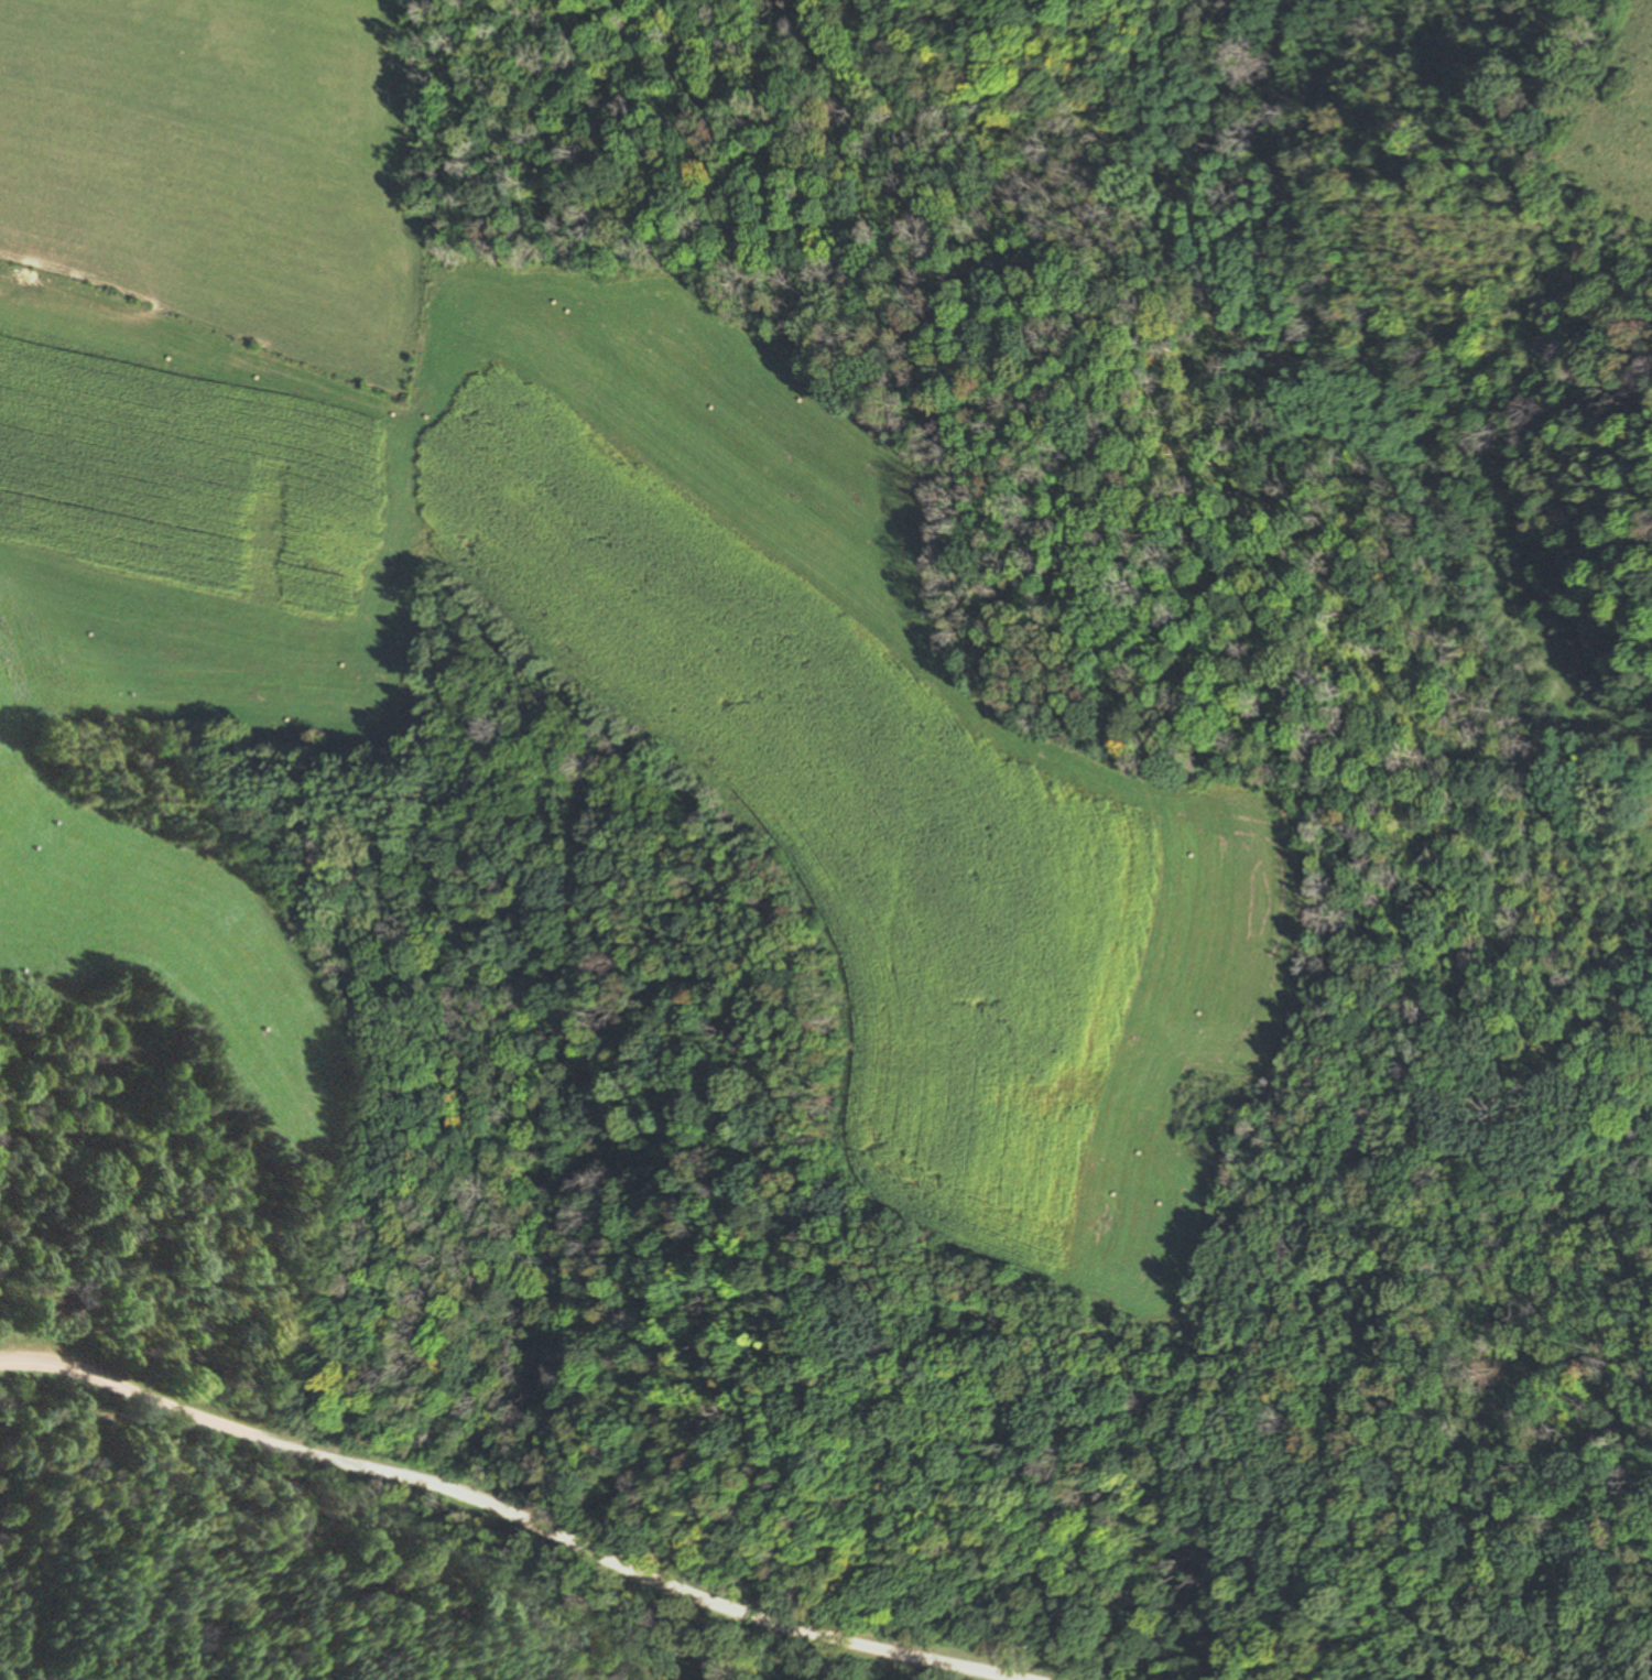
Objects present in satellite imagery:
road: (507, 1513)

